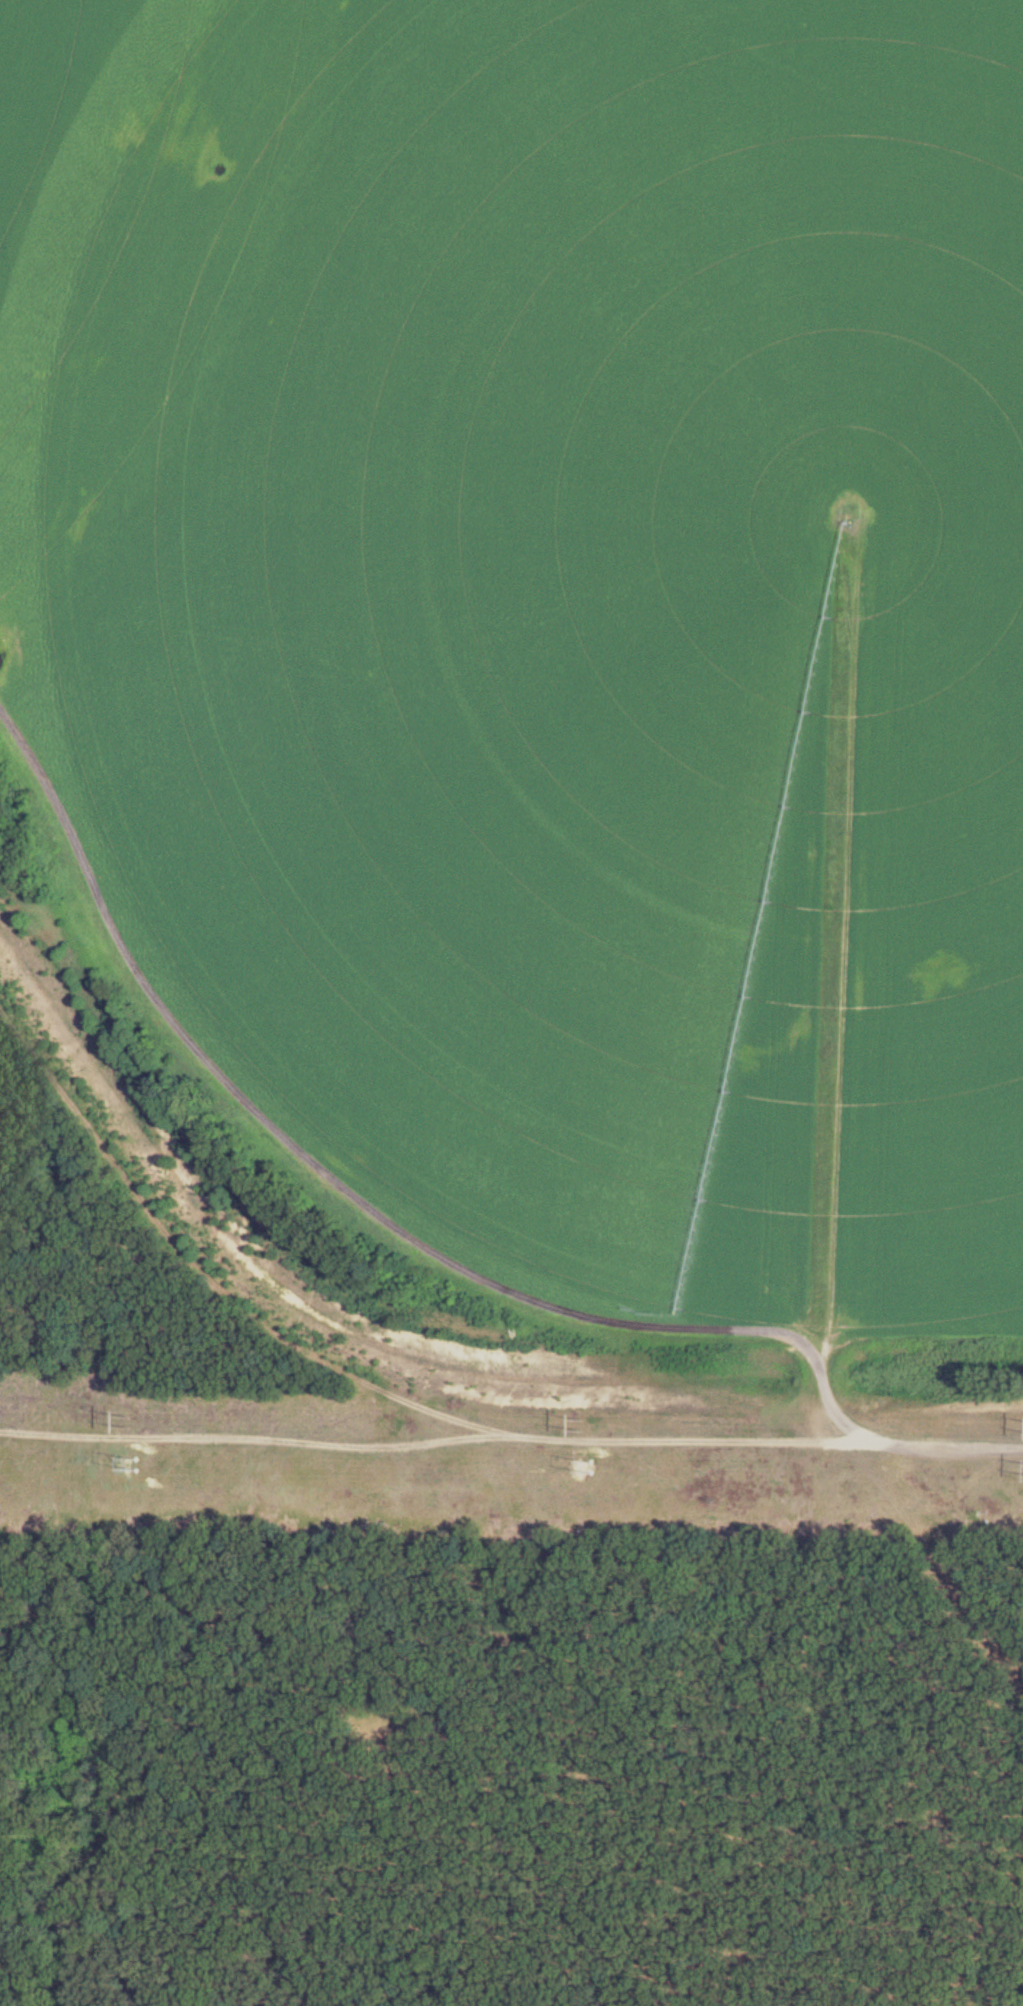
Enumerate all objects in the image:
power tower: (130, 1419)
power tower: (583, 1422)
power tower: (128, 1461)
power tower: (584, 1464)

